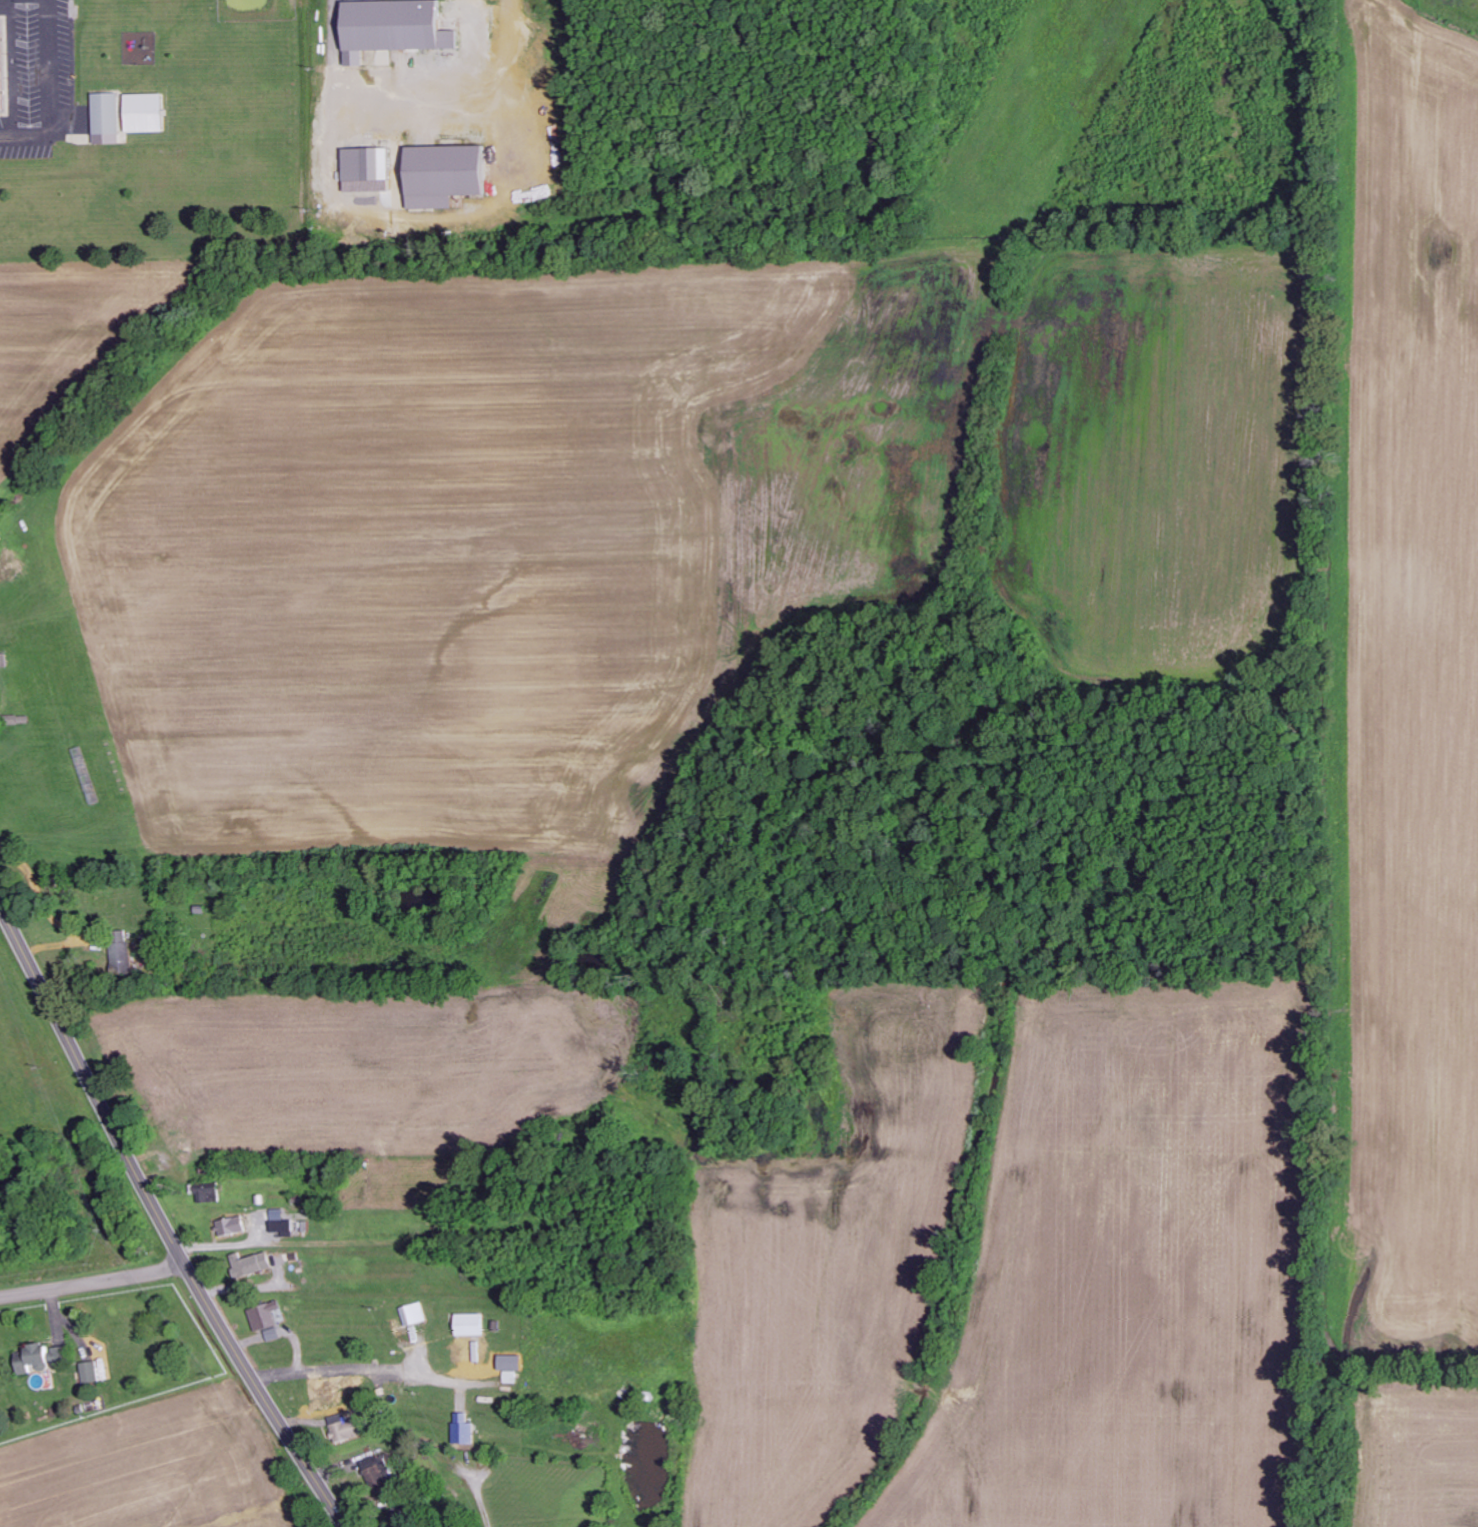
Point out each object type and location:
building: (391, 28)
road: (11, 67)
building: (0, 71)
parking lot: (37, 76)
road: (50, 92)
building: (108, 113)
building: (144, 113)
building: (366, 164)
building: (443, 175)
building: (121, 960)
building: (205, 1191)
road: (161, 1222)
building: (229, 1226)
building: (281, 1227)
building: (248, 1264)
road: (93, 1285)
building: (410, 1315)
building: (265, 1320)
road: (68, 1324)
building: (468, 1325)
road: (57, 1330)
building: (31, 1359)
building: (90, 1372)
building: (329, 1391)
building: (345, 1430)
building: (462, 1430)
building: (375, 1473)

